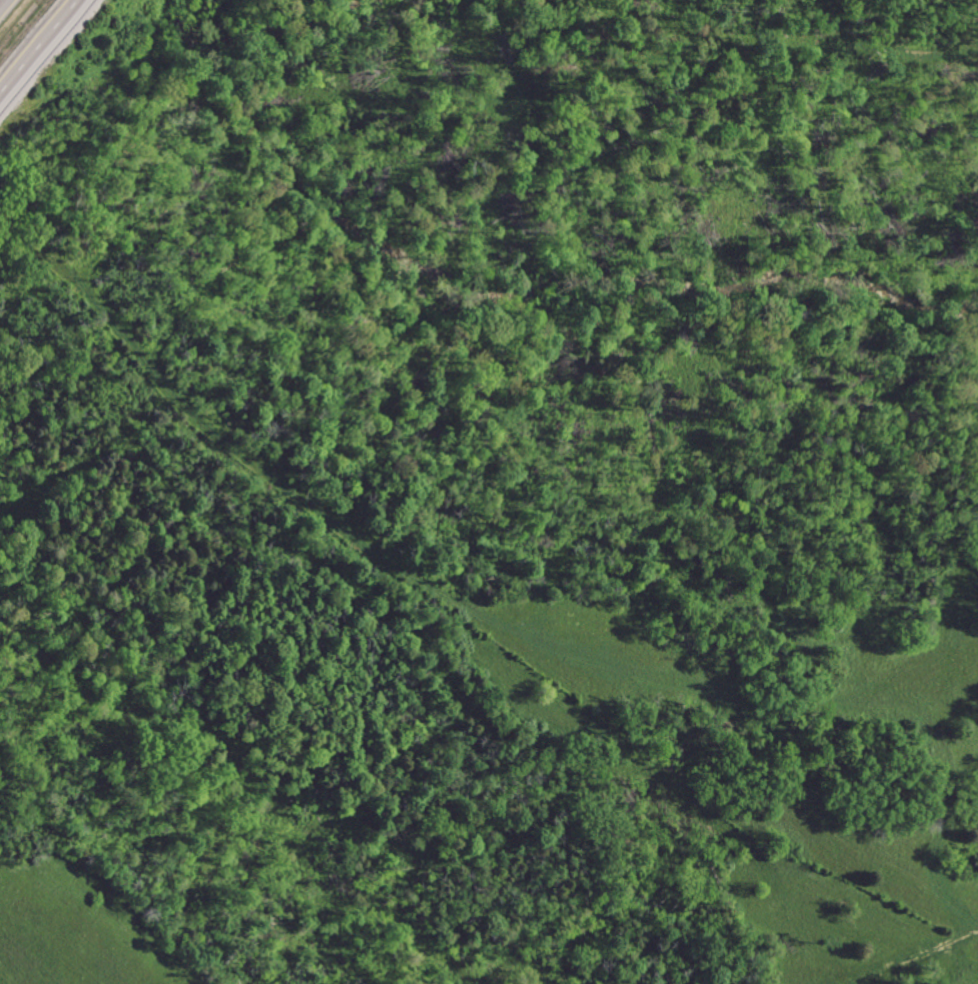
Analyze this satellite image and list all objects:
road: (3, 4)
road: (46, 62)

